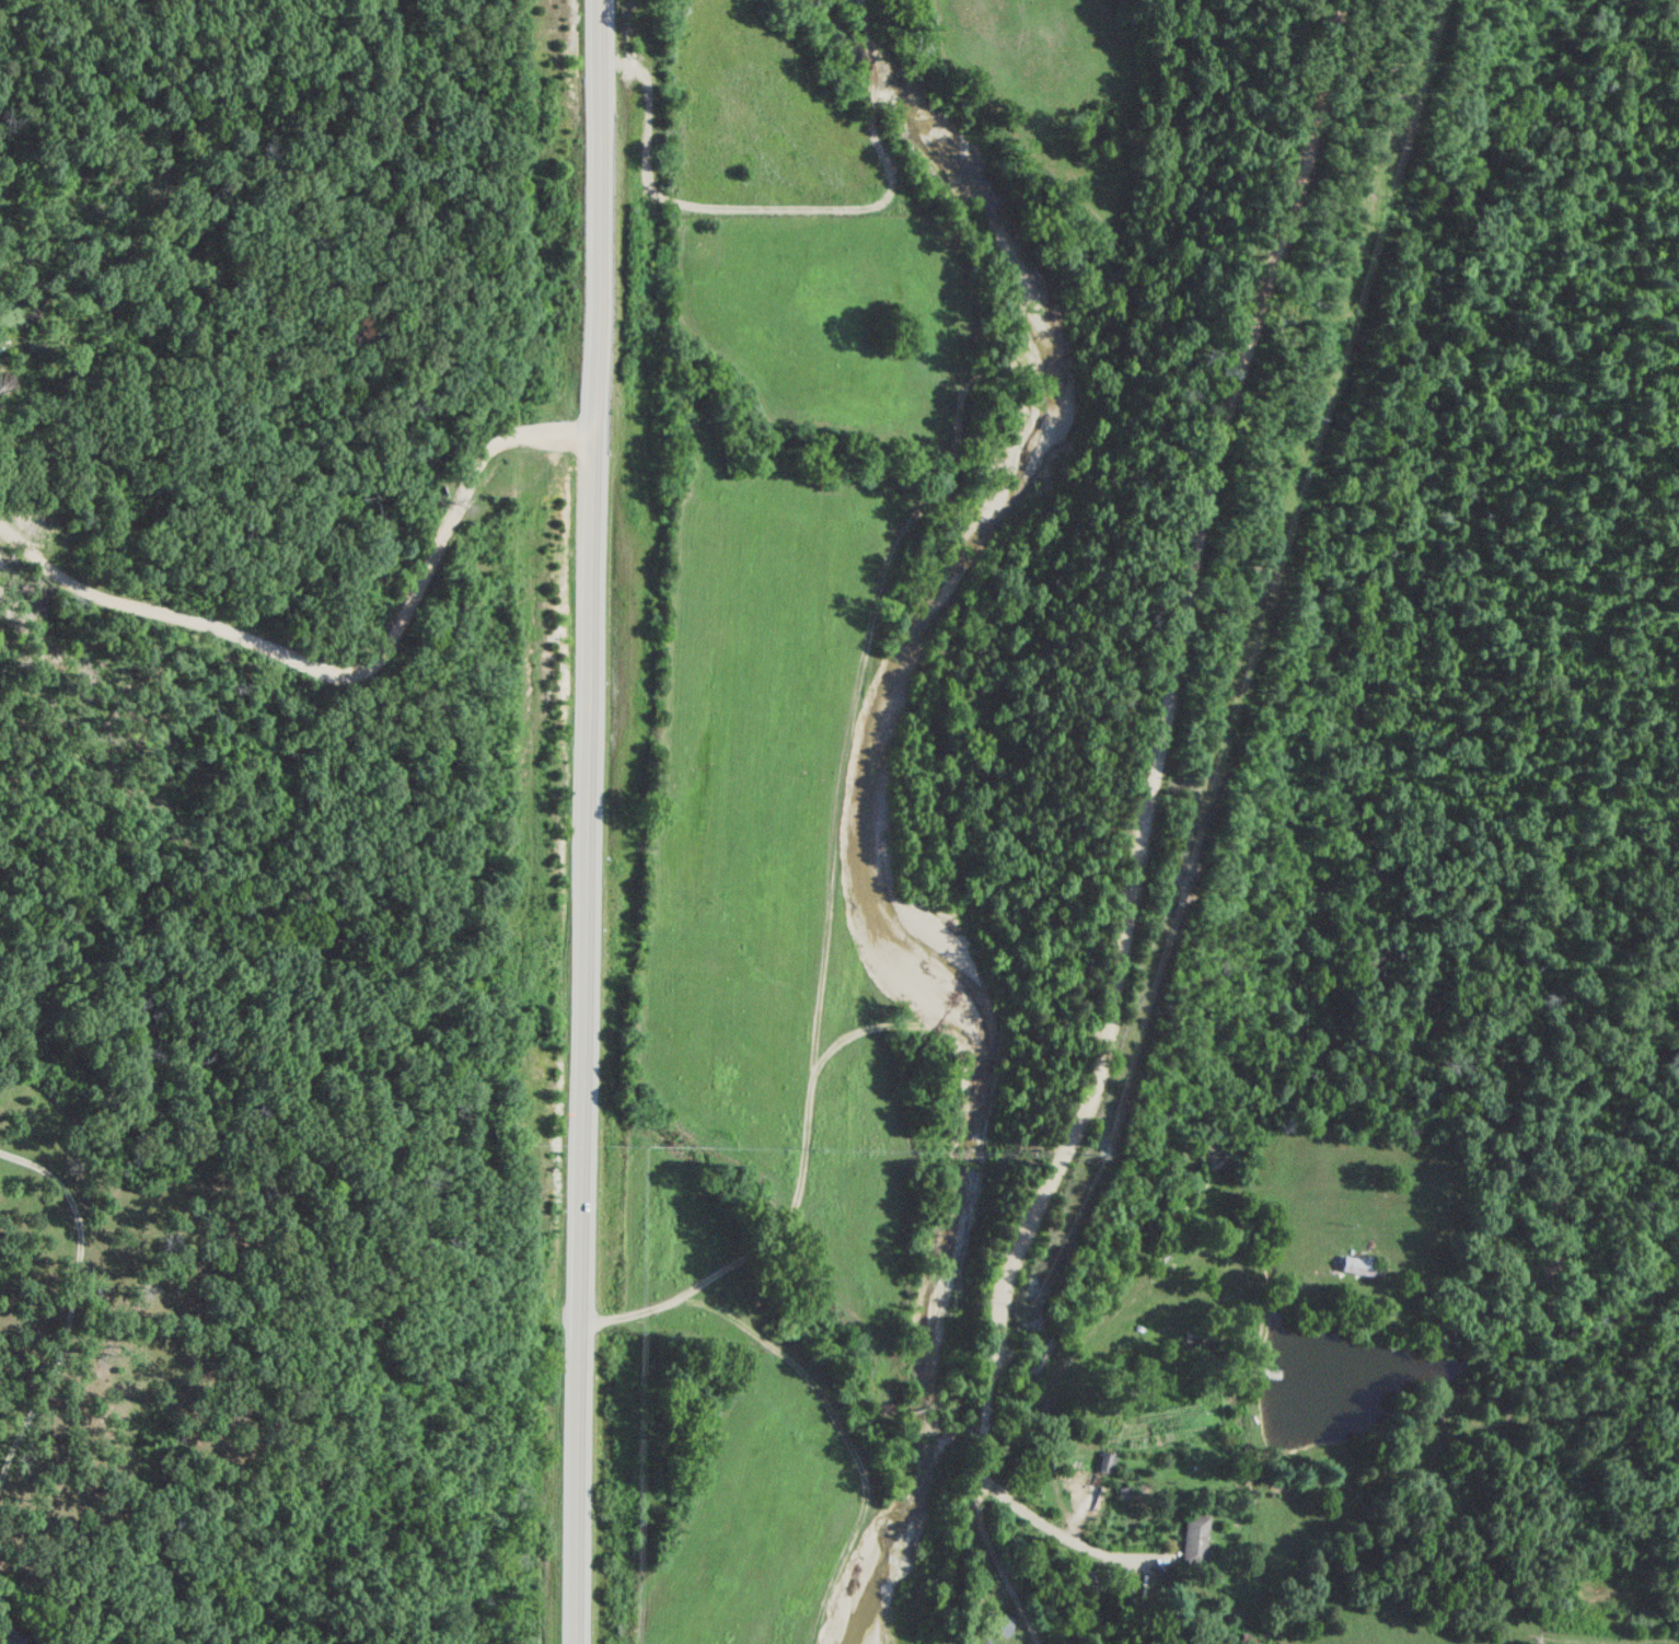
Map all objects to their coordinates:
road: (1190, 314)
road: (346, 668)
road: (1138, 820)
road: (588, 822)
building: (1357, 1265)
road: (73, 1301)
building: (1108, 1462)
building: (1197, 1537)
building: (10, 1632)

